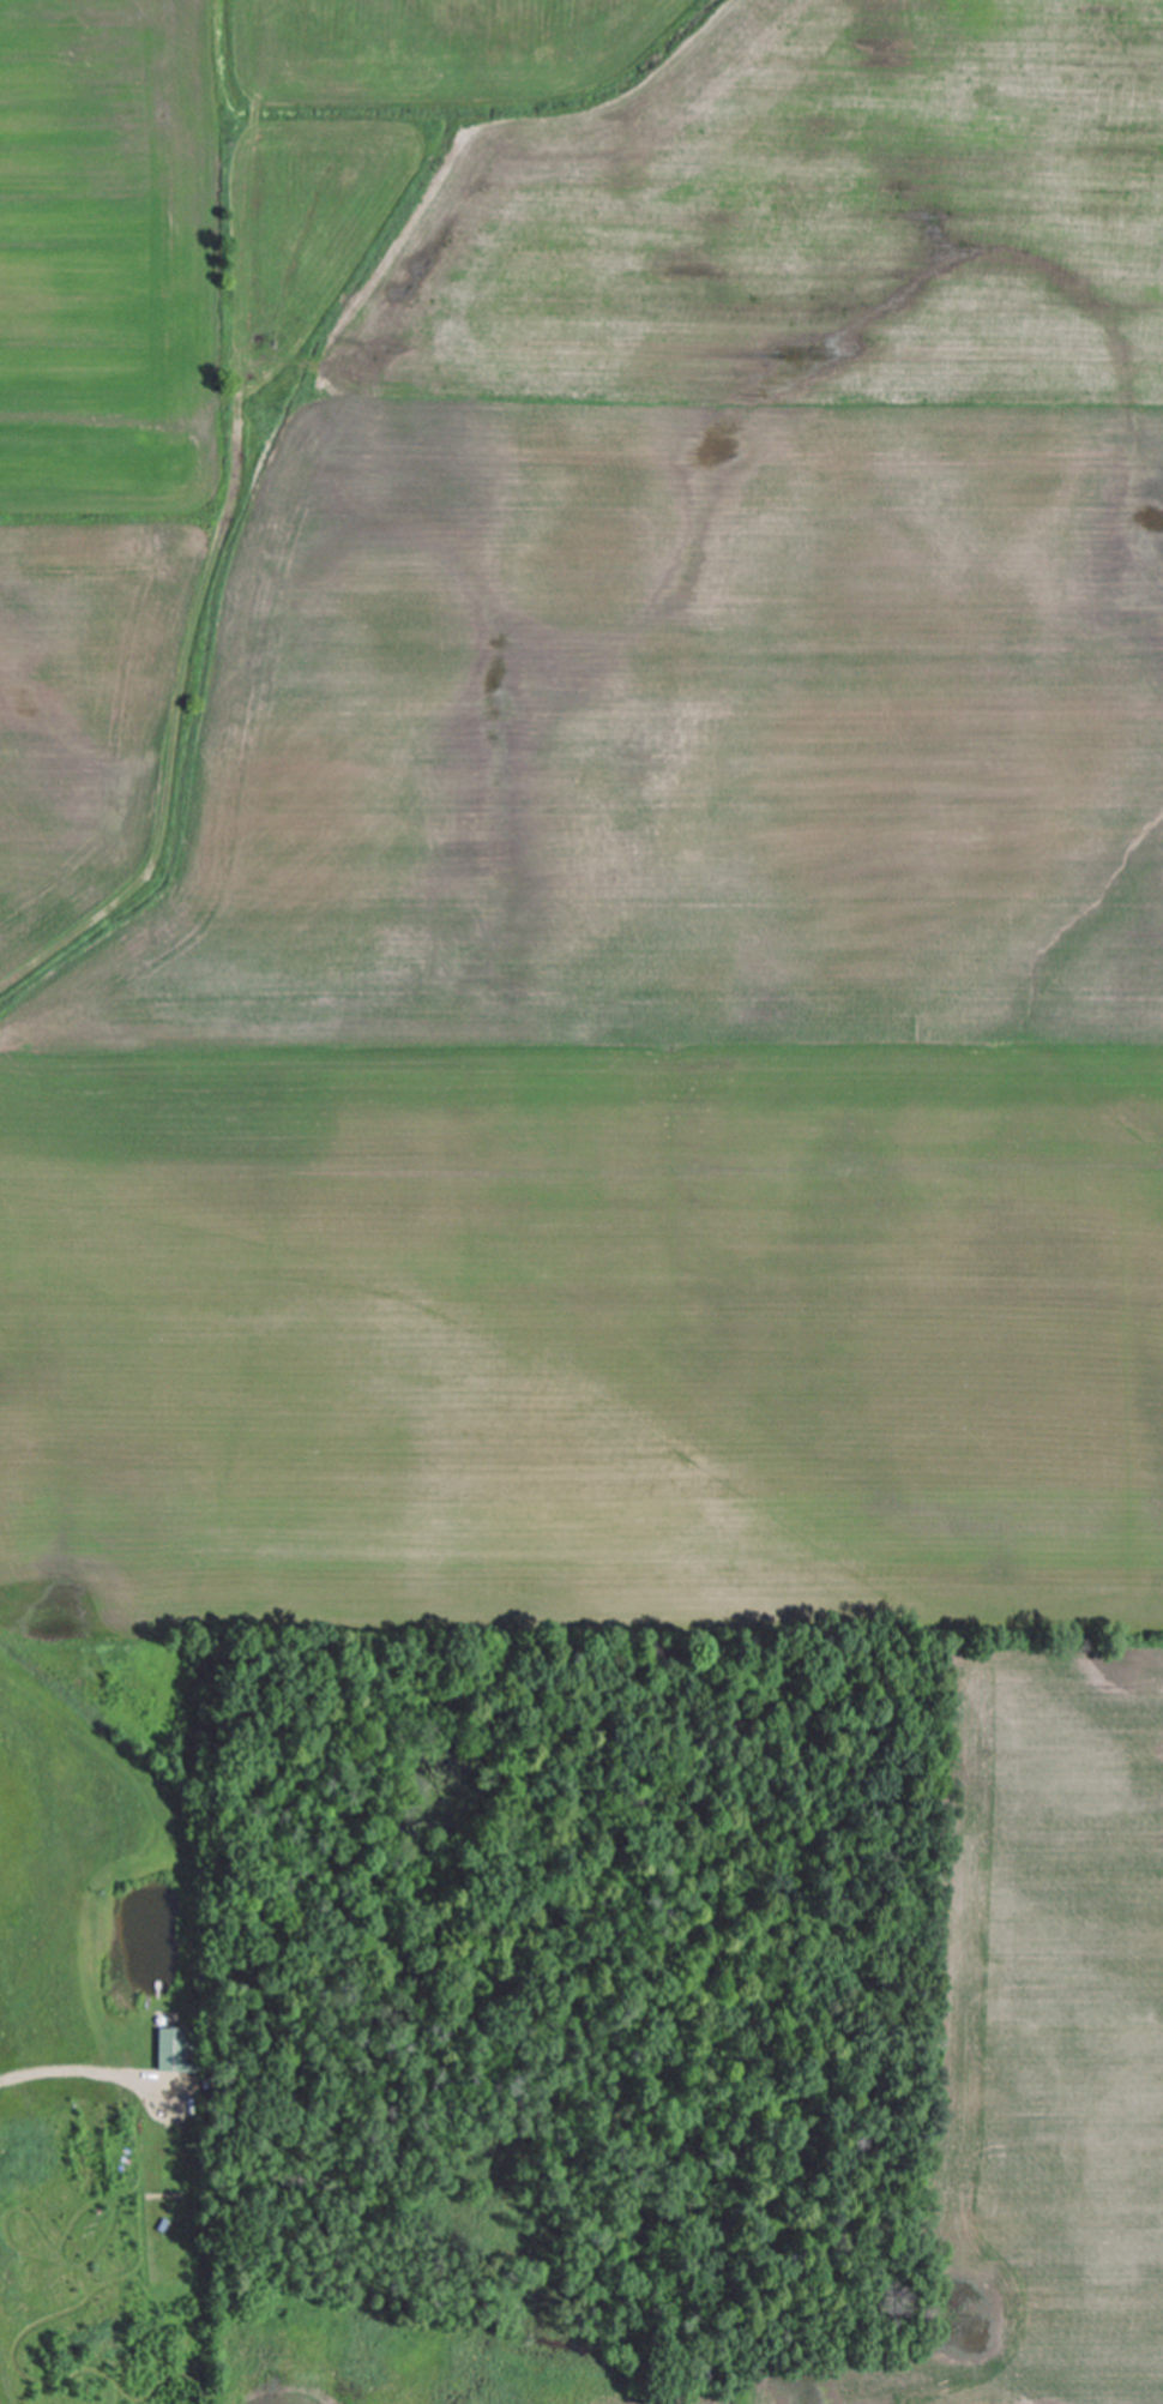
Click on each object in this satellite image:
building: (170, 2050)
road: (82, 2071)

